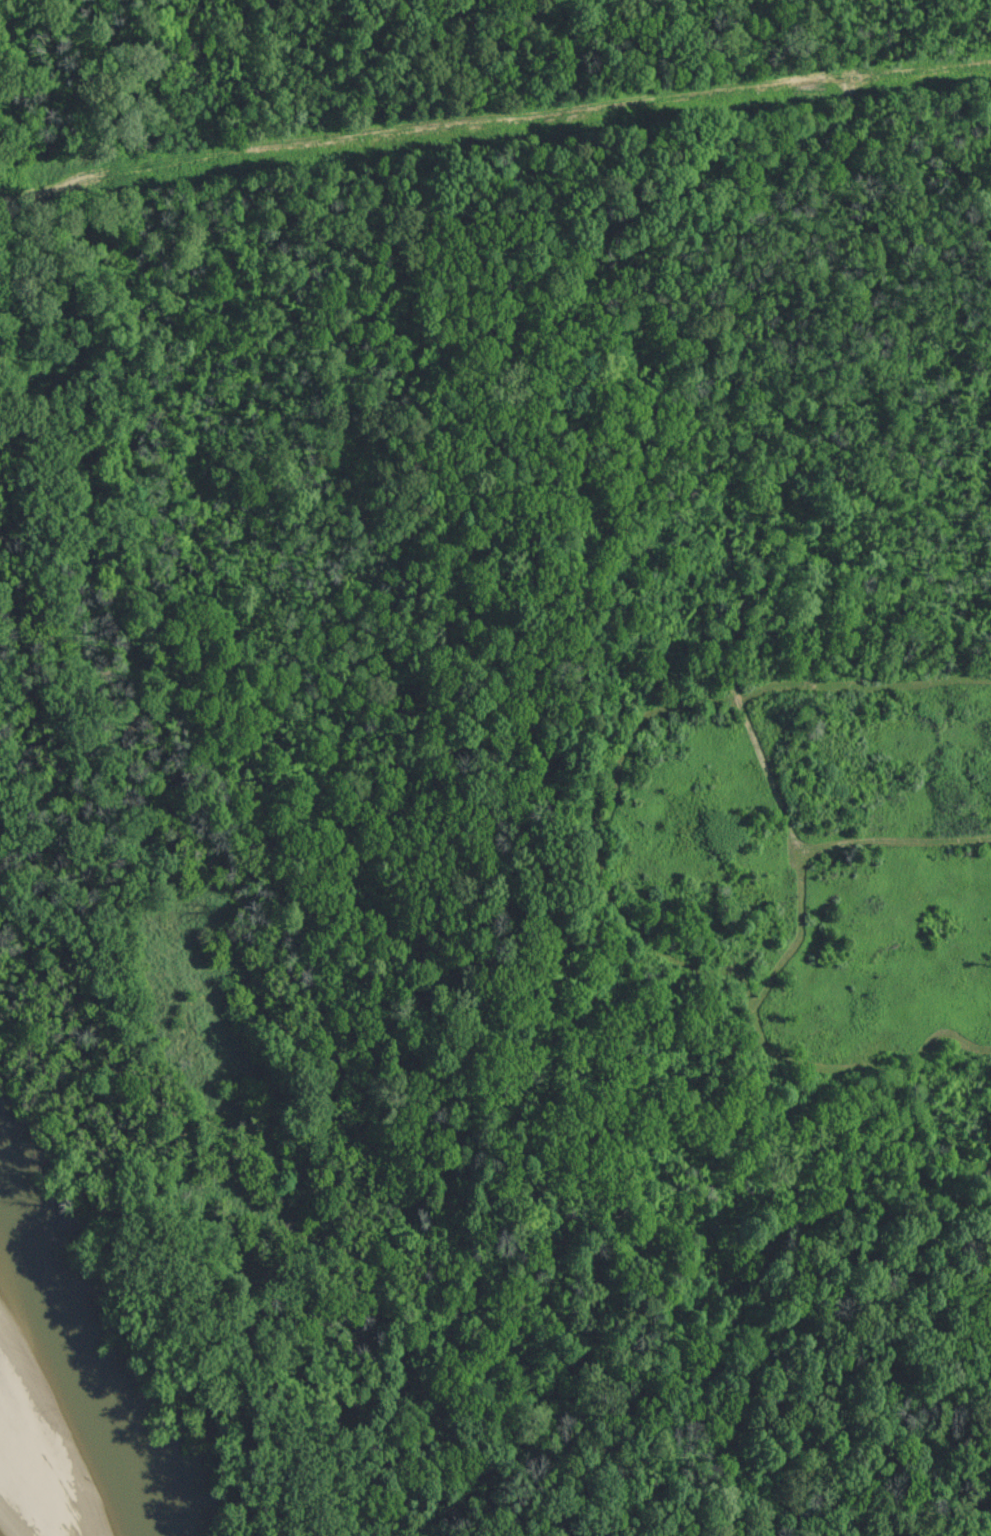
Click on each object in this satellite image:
river: (79, 1397)

